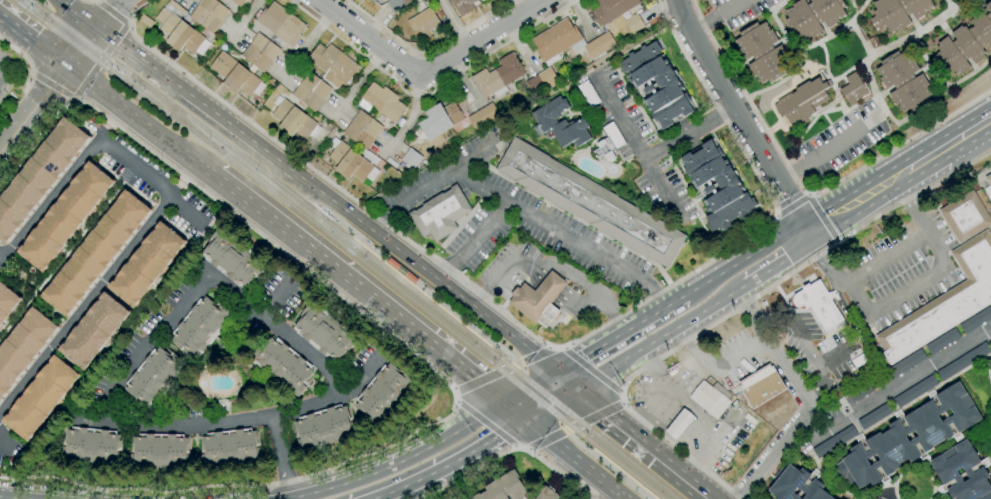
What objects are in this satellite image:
building: (485, 0)
building: (487, 0)
road: (96, 1)
building: (372, 1)
building: (238, 2)
building: (398, 4)
building: (462, 6)
road: (519, 6)
building: (611, 9)
building: (897, 12)
road: (111, 13)
road: (109, 14)
building: (209, 14)
road: (77, 15)
road: (714, 16)
building: (812, 17)
road: (243, 20)
building: (423, 22)
road: (453, 23)
building: (281, 24)
building: (633, 24)
road: (128, 25)
traffic signals: (97, 30)
building: (182, 36)
building: (555, 39)
road: (33, 41)
building: (965, 43)
road: (306, 45)
building: (599, 45)
road: (81, 47)
road: (426, 49)
building: (763, 52)
building: (259, 53)
road: (19, 59)
road: (100, 62)
building: (333, 65)
traffic signals: (67, 66)
road: (427, 71)
building: (236, 76)
building: (497, 76)
building: (541, 81)
building: (903, 81)
road: (49, 82)
road: (357, 83)
building: (670, 87)
building: (853, 89)
building: (310, 92)
road: (722, 92)
road: (428, 93)
building: (588, 94)
road: (75, 100)
building: (382, 102)
building: (801, 102)
road: (198, 103)
road: (33, 107)
building: (483, 117)
building: (293, 119)
road: (410, 120)
building: (439, 120)
road: (142, 123)
building: (560, 124)
building: (362, 130)
road: (688, 133)
building: (608, 142)
road: (835, 145)
road: (946, 145)
road: (638, 147)
building: (411, 158)
building: (350, 163)
road: (789, 173)
building: (38, 176)
road: (152, 181)
road: (429, 184)
building: (717, 185)
building: (988, 186)
road: (802, 189)
road: (806, 194)
road: (51, 196)
building: (590, 203)
road: (853, 203)
road: (790, 204)
road: (790, 207)
building: (440, 213)
parking lot: (510, 216)
building: (964, 216)
building: (65, 217)
road: (821, 218)
road: (560, 234)
railway: (352, 238)
road: (808, 239)
road: (473, 242)
railway: (342, 245)
railway: (356, 246)
road: (796, 247)
road: (754, 248)
road: (66, 249)
building: (95, 254)
road: (887, 256)
building: (231, 259)
building: (146, 265)
parking lot: (508, 265)
road: (550, 268)
parking lot: (902, 270)
building: (401, 271)
road: (426, 272)
road: (767, 274)
road: (695, 284)
road: (361, 290)
road: (909, 290)
building: (538, 298)
building: (7, 302)
building: (944, 302)
road: (746, 303)
road: (85, 304)
building: (819, 304)
road: (656, 307)
road: (733, 310)
building: (976, 320)
building: (200, 327)
parking lot: (809, 327)
road: (526, 331)
building: (93, 332)
building: (323, 332)
road: (661, 339)
building: (942, 341)
road: (591, 346)
building: (22, 347)
road: (302, 351)
road: (505, 352)
parking lot: (740, 354)
road: (417, 358)
road: (826, 361)
building: (963, 361)
building: (989, 364)
building: (282, 366)
road: (718, 366)
road: (589, 368)
road: (505, 369)
building: (897, 369)
traffic signals: (552, 371)
building: (154, 378)
road: (654, 380)
building: (761, 385)
road: (819, 385)
road: (528, 386)
road: (895, 386)
traffic signals: (576, 390)
building: (915, 391)
building: (860, 392)
building: (383, 394)
building: (41, 398)
building: (709, 400)
traffic signals: (504, 402)
road: (550, 403)
road: (514, 410)
road: (803, 411)
building: (873, 416)
traffic signals: (525, 419)
road: (488, 424)
building: (679, 424)
road: (572, 426)
building: (324, 428)
road: (686, 428)
road: (630, 435)
building: (887, 436)
road: (577, 440)
building: (834, 442)
road: (1, 445)
building: (91, 448)
railway: (593, 448)
building: (230, 449)
road: (506, 449)
building: (160, 454)
road: (575, 458)
road: (281, 459)
road: (400, 460)
road: (449, 463)
building: (945, 469)
building: (797, 485)
building: (503, 488)
building: (546, 493)
road: (8, 498)
road: (372, 498)

